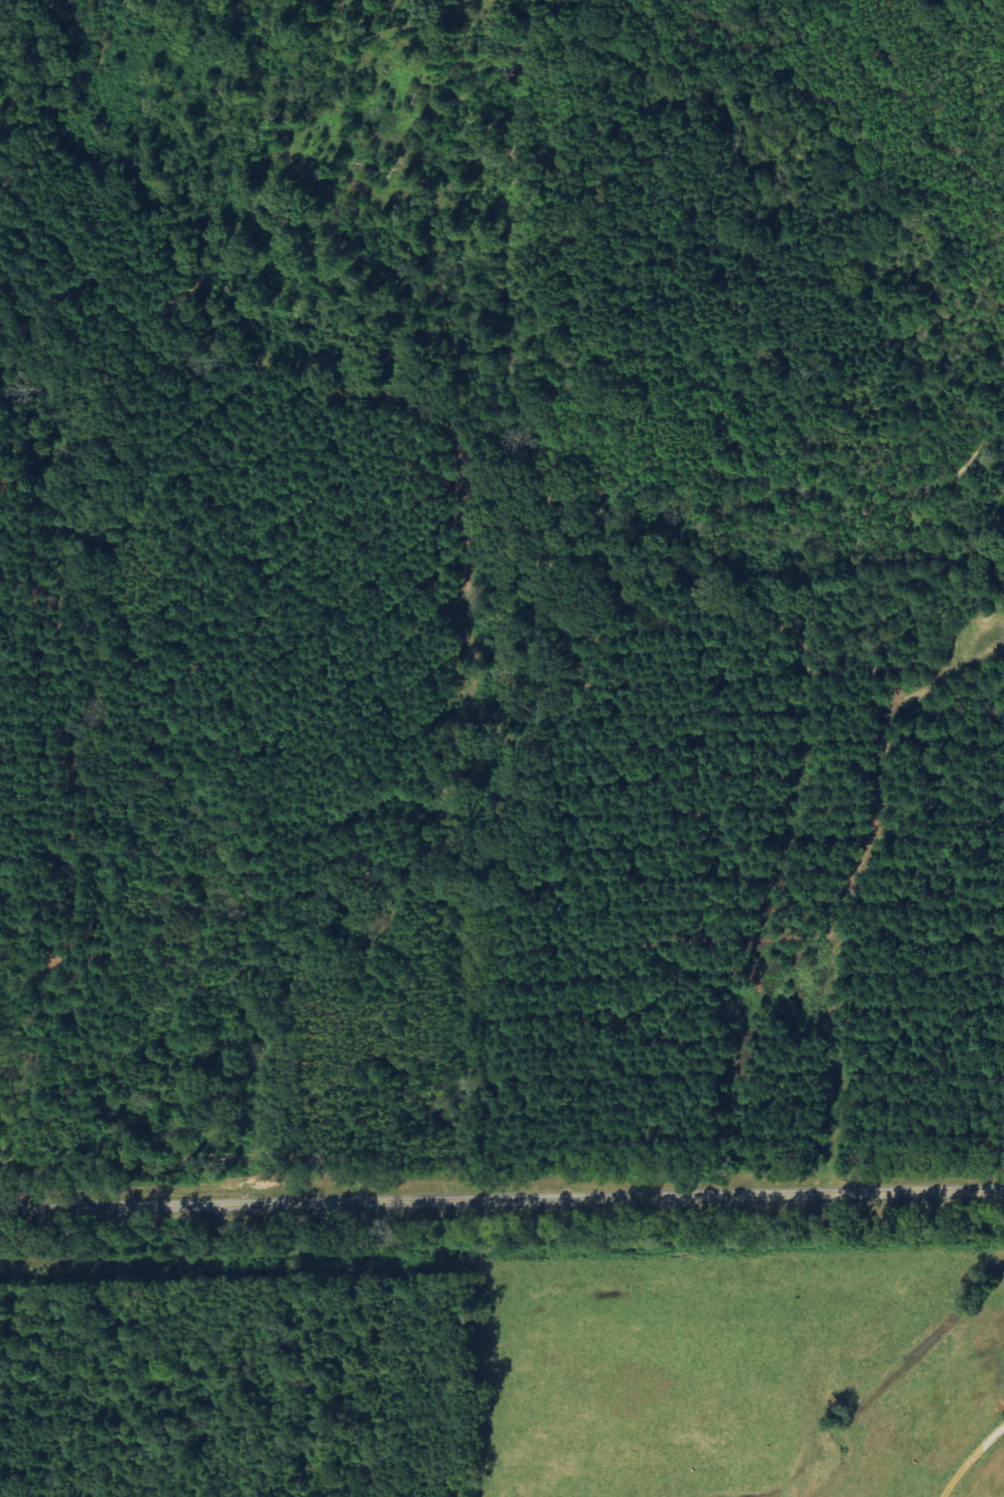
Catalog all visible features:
road: (501, 1198)

